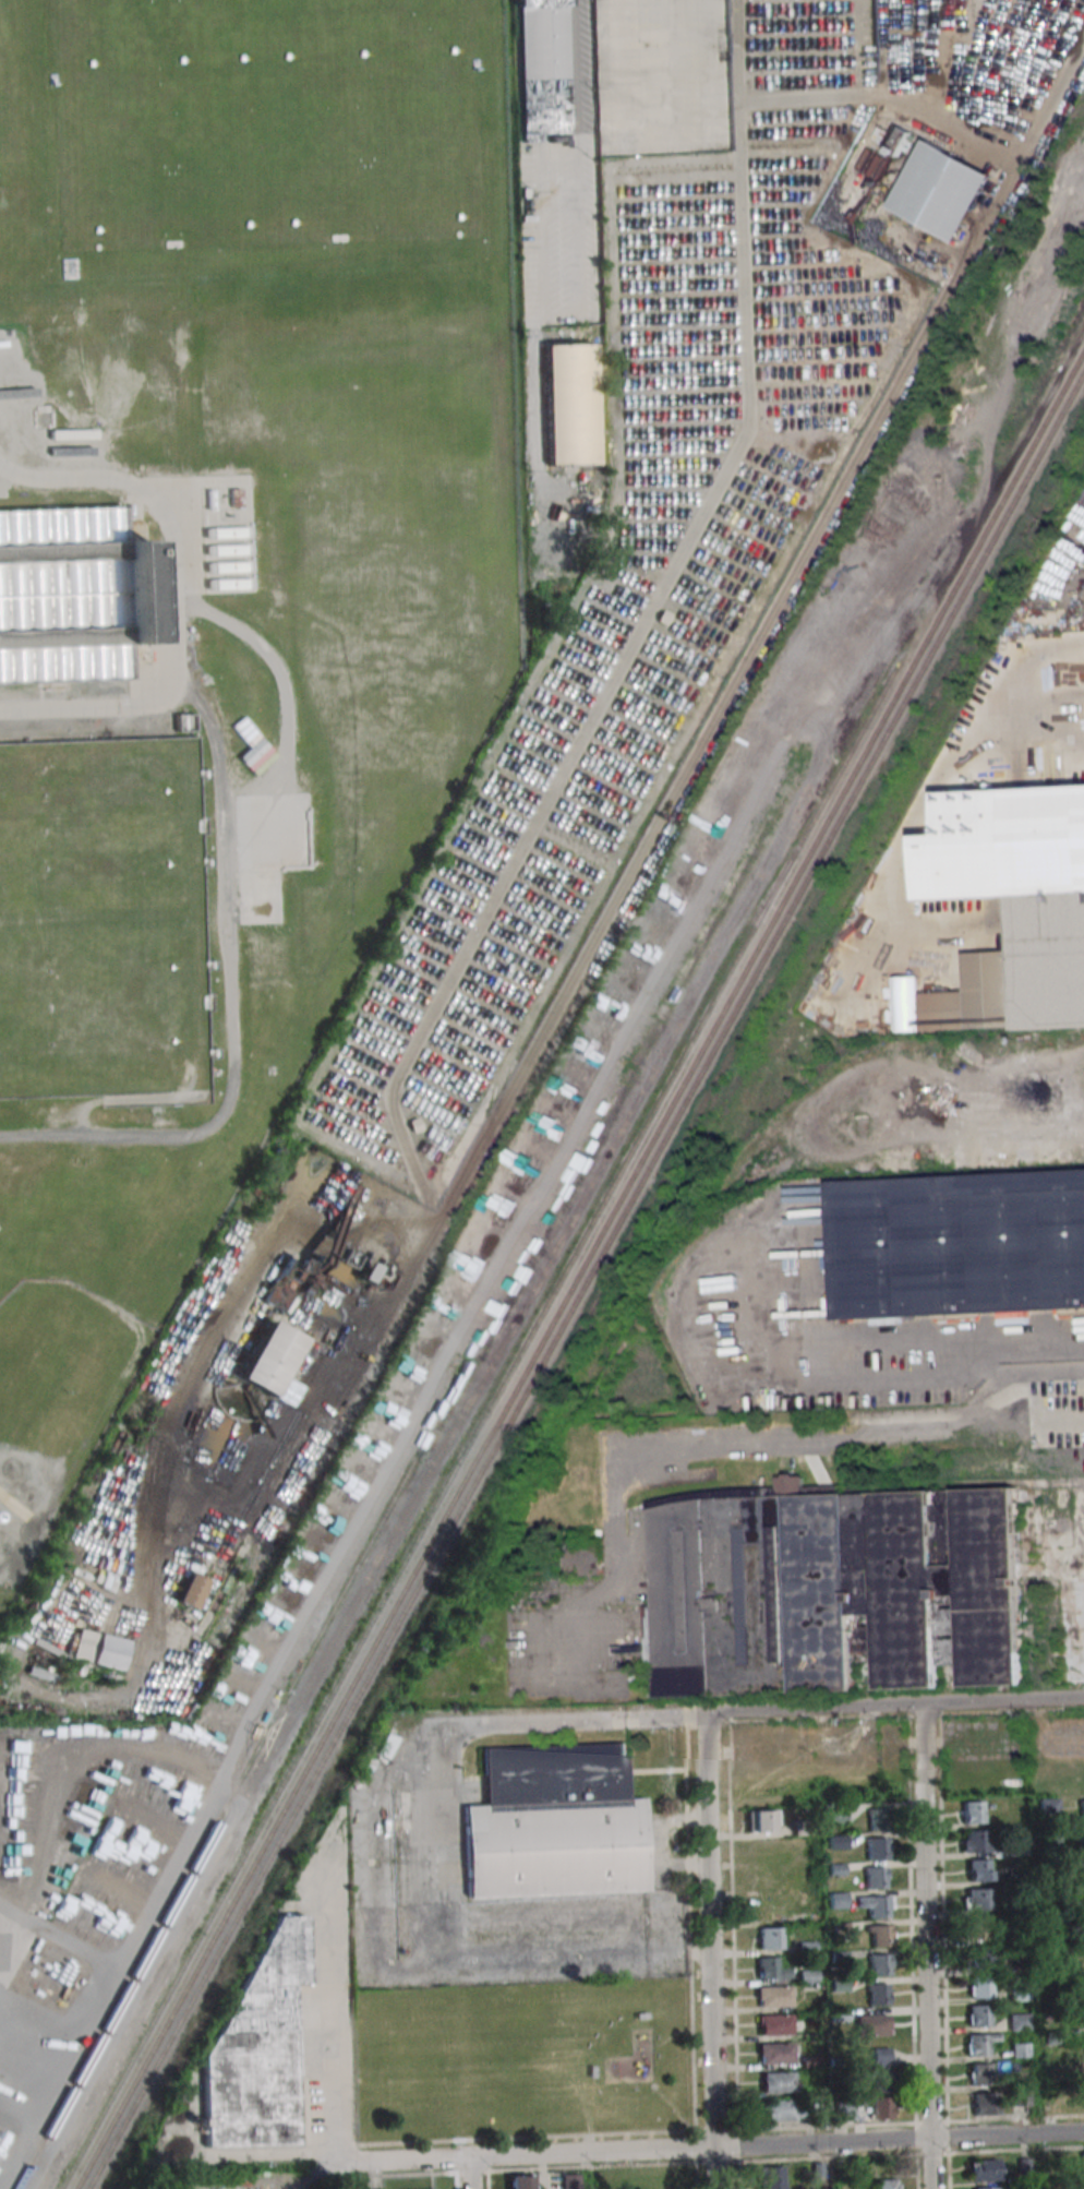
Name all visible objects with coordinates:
road: (710, 17)
road: (648, 35)
building: (543, 69)
building: (267, 116)
storage tank: (267, 116)
building: (899, 141)
road: (573, 158)
building: (880, 167)
building: (941, 190)
road: (543, 234)
building: (569, 404)
building: (231, 498)
building: (204, 500)
building: (219, 533)
building: (220, 550)
building: (220, 567)
railway: (975, 573)
building: (221, 584)
building: (68, 595)
road: (166, 607)
building: (180, 722)
road: (1029, 732)
road: (952, 758)
building: (718, 802)
building: (1020, 881)
building: (98, 918)
storage tank: (98, 918)
road: (222, 1009)
building: (10, 1172)
building: (28, 1177)
building: (957, 1244)
railway: (579, 1269)
building: (282, 1287)
building: (1070, 1328)
road: (1035, 1350)
building: (268, 1359)
road: (815, 1365)
road: (995, 1367)
railway: (480, 1426)
road: (742, 1438)
railway: (477, 1480)
building: (582, 1558)
building: (854, 1586)
building: (192, 1591)
building: (98, 1649)
road: (894, 1703)
road: (555, 1721)
building: (387, 1745)
road: (366, 1795)
building: (1082, 1810)
building: (972, 1813)
building: (877, 1819)
building: (762, 1821)
building: (556, 1825)
railway: (216, 1827)
building: (1081, 1837)
building: (975, 1841)
building: (1015, 1846)
building: (877, 1849)
building: (1082, 1869)
building: (978, 1870)
building: (875, 1877)
building: (768, 1879)
building: (1082, 1897)
building: (838, 1900)
building: (976, 1900)
building: (877, 1905)
building: (1083, 1927)
building: (979, 1928)
building: (880, 1935)
building: (768, 1938)
road: (927, 1946)
road: (710, 1949)
building: (1082, 1957)
building: (978, 1958)
building: (880, 1963)
building: (771, 1969)
building: (1082, 1985)
building: (980, 1986)
building: (879, 1994)
building: (773, 1996)
building: (1083, 2014)
building: (978, 2015)
road: (324, 2017)
building: (641, 2017)
building: (1017, 2022)
building: (775, 2024)
building: (872, 2024)
road: (671, 2036)
building: (979, 2044)
building: (257, 2046)
building: (774, 2053)
park: (523, 2058)
building: (882, 2069)
building: (593, 2072)
building: (980, 2074)
building: (778, 2082)
building: (1083, 2101)
building: (984, 2103)
building: (880, 2108)
road: (673, 2109)
building: (781, 2110)
building: (846, 2114)
road: (720, 2148)
building: (1083, 2162)
building: (987, 2169)
road: (316, 2173)
road: (470, 2174)
building: (770, 2177)
building: (569, 2181)
building: (521, 2182)
building: (888, 2184)
building: (985, 2188)

